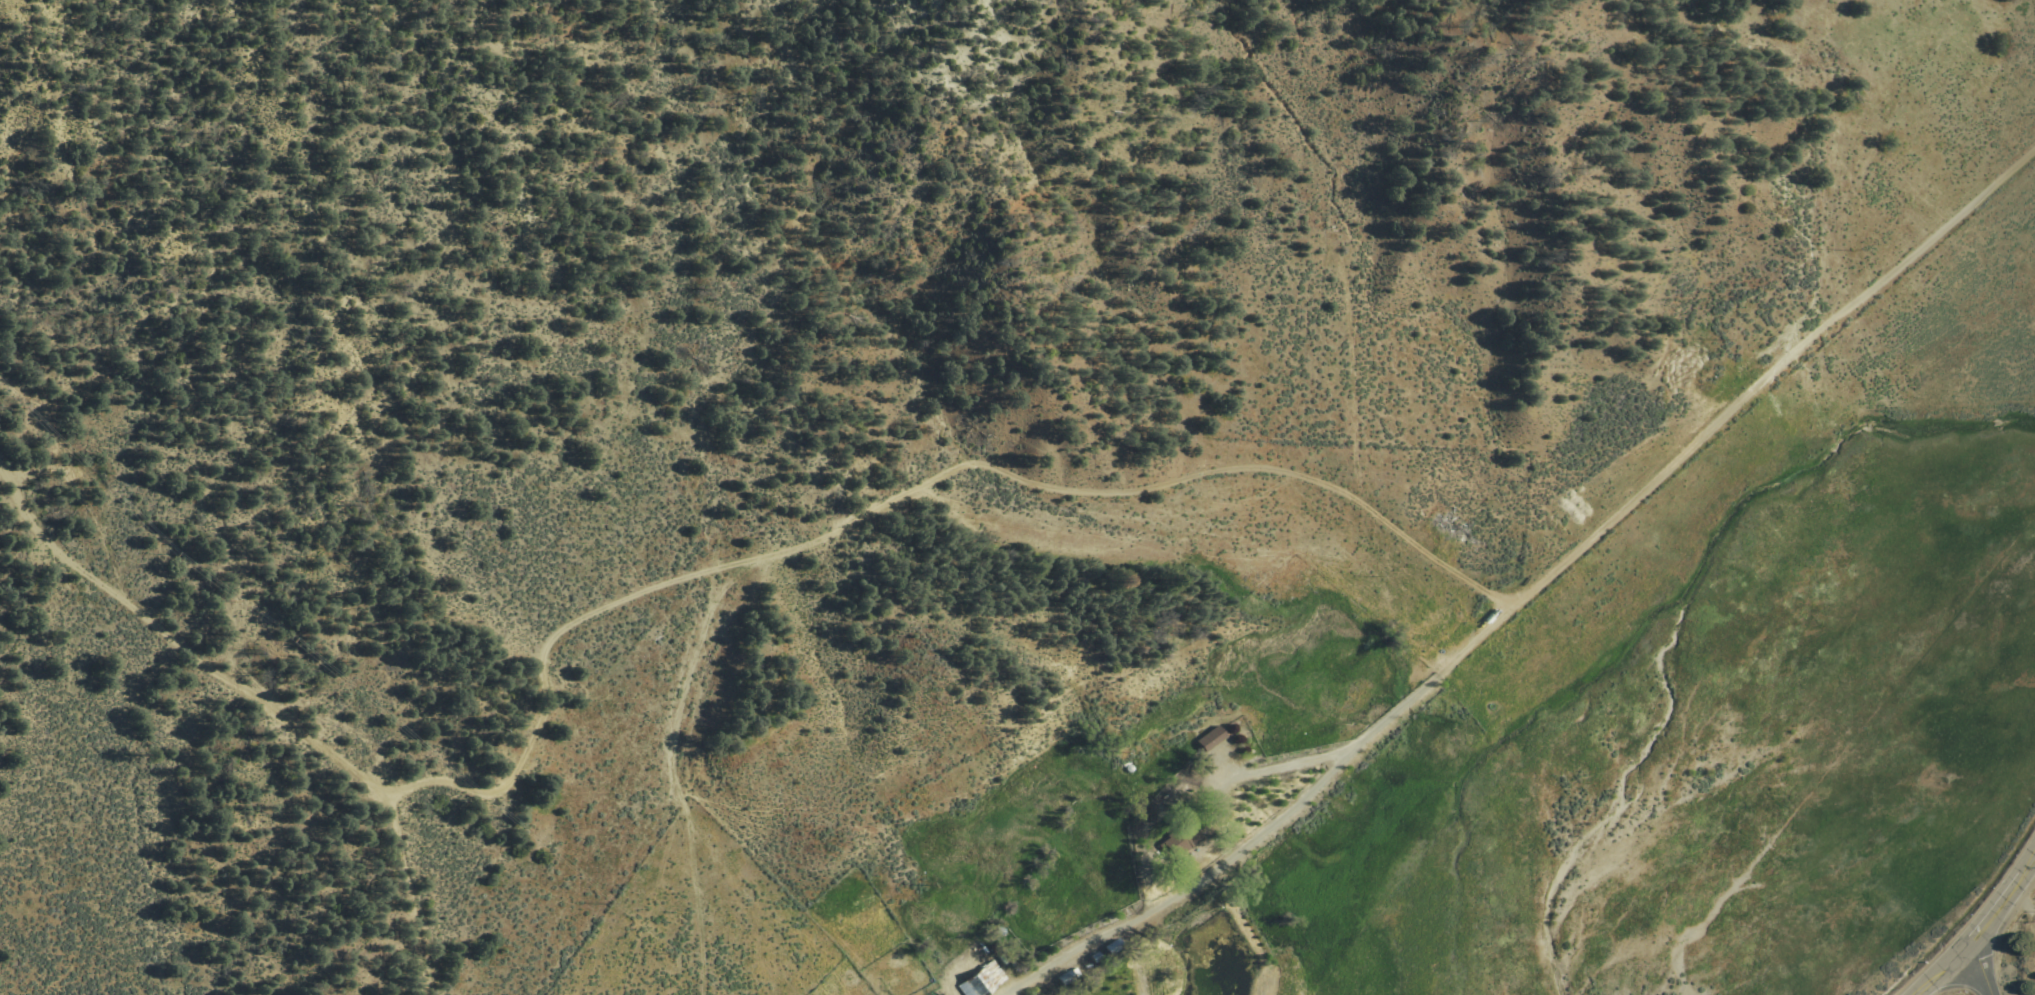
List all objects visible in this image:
road: (1936, 236)
road: (813, 543)
road: (179, 644)
road: (1435, 676)
building: (1209, 738)
building: (1181, 841)
road: (2022, 903)
road: (1979, 928)
road: (1982, 966)
building: (980, 980)

